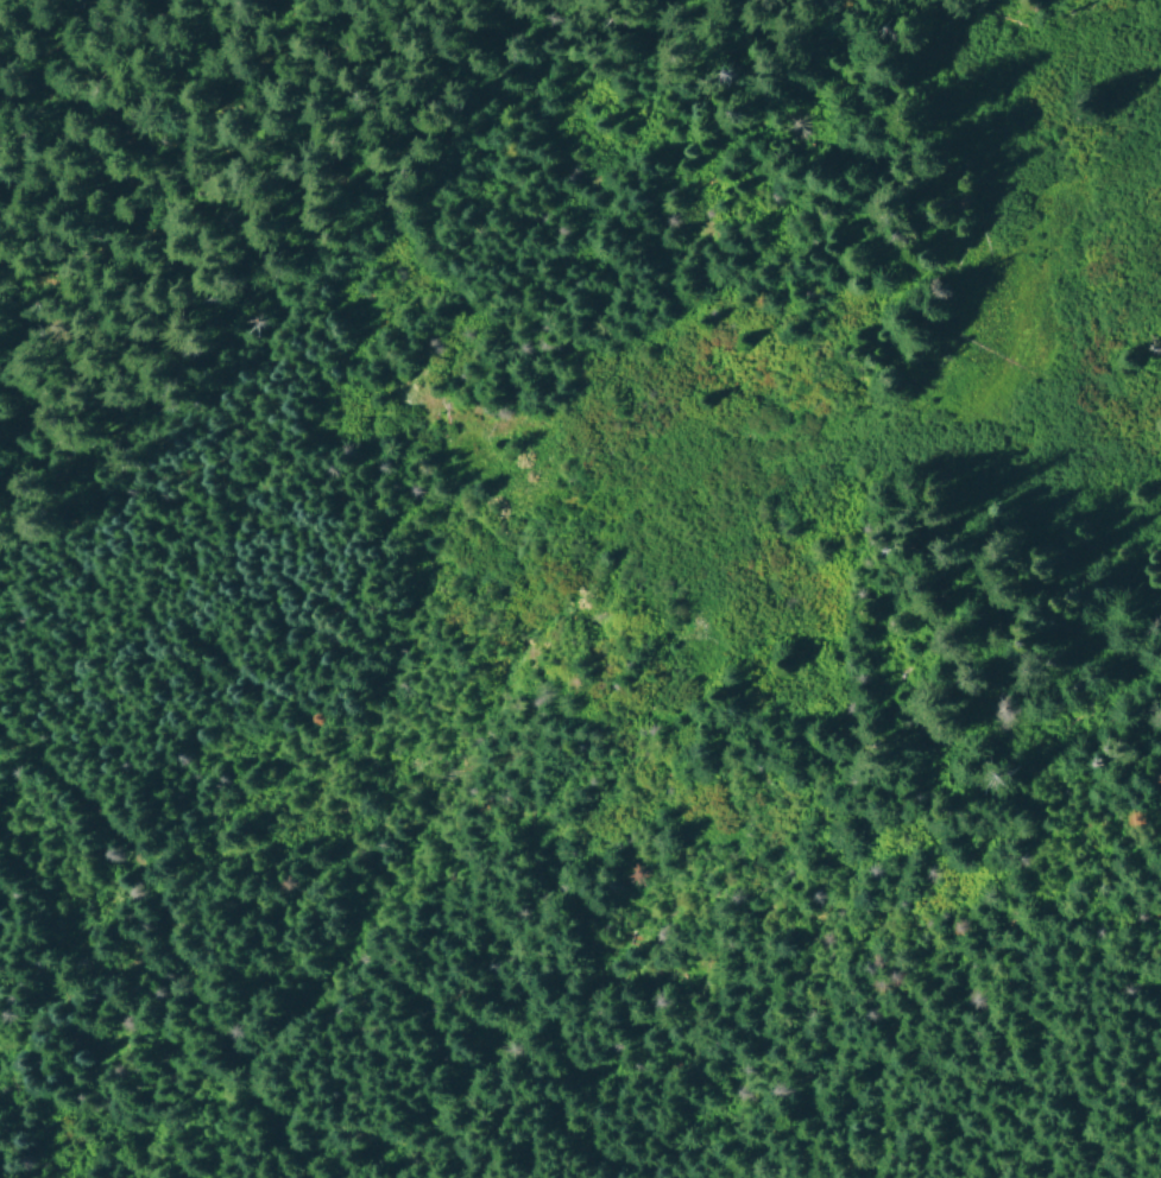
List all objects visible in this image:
road: (172, 942)

